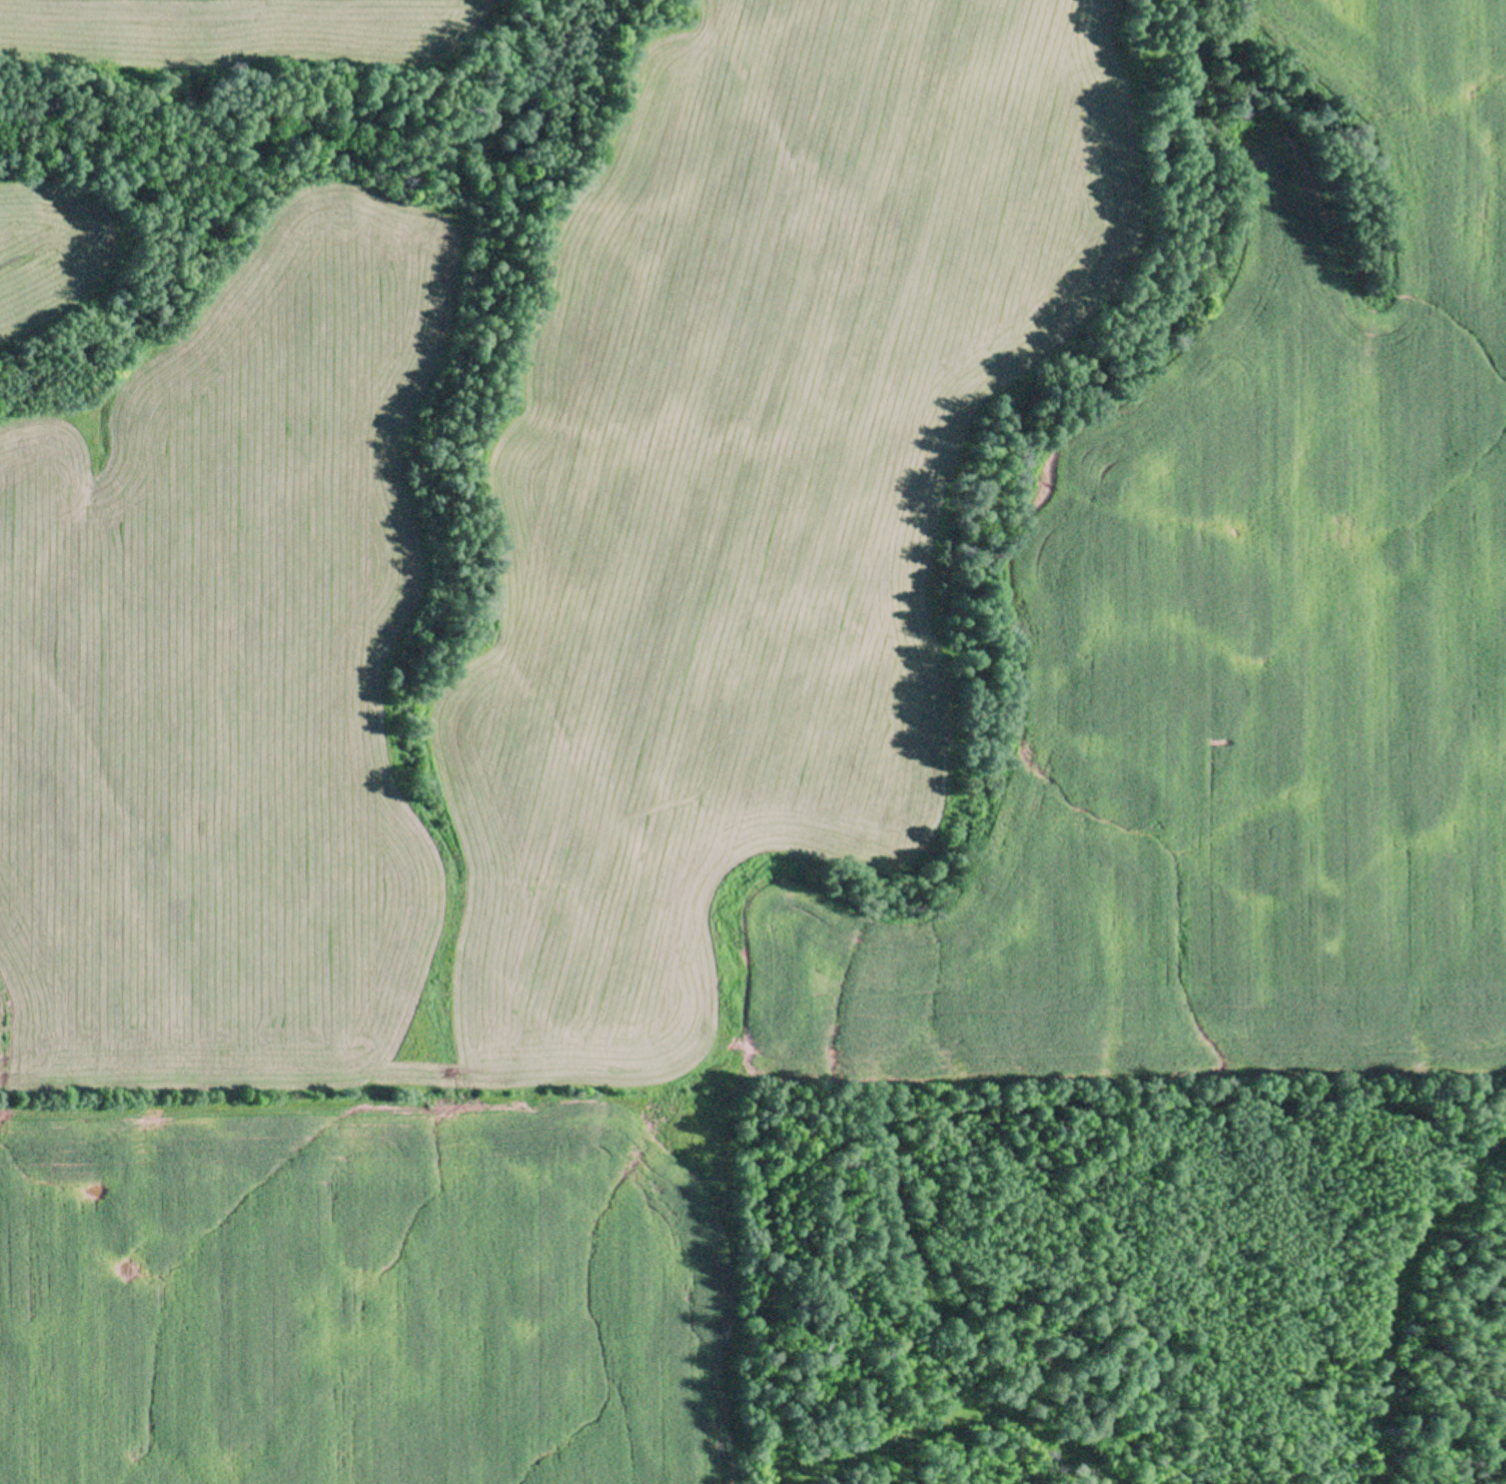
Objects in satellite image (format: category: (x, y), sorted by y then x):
crop: (237, 31)
crop: (42, 261)
crop: (718, 728)

